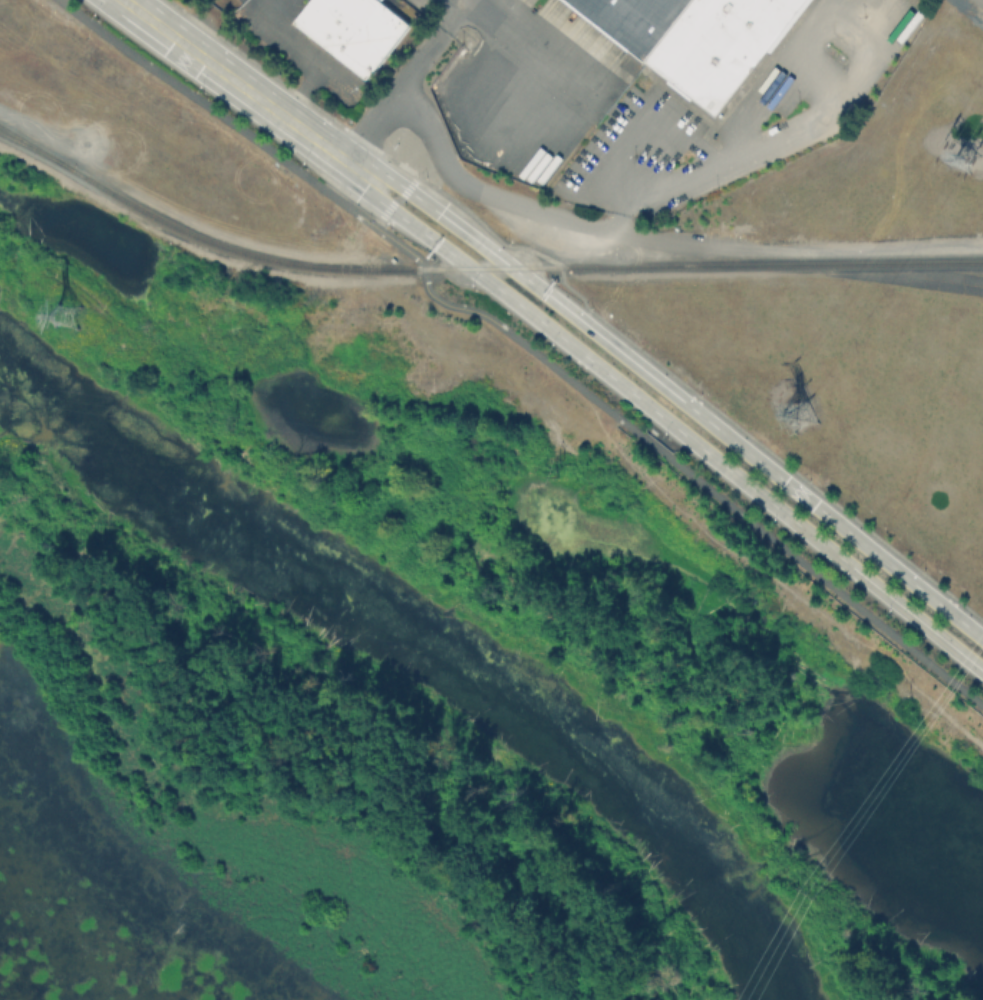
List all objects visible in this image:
building: (356, 30)
building: (696, 39)
road: (525, 50)
road: (304, 55)
road: (401, 78)
road: (243, 87)
road: (758, 140)
railway: (36, 148)
power tower: (963, 157)
road: (482, 192)
road: (389, 206)
railway: (476, 270)
power tower: (67, 315)
road: (521, 343)
road: (679, 397)
power tower: (800, 414)
road: (670, 425)

